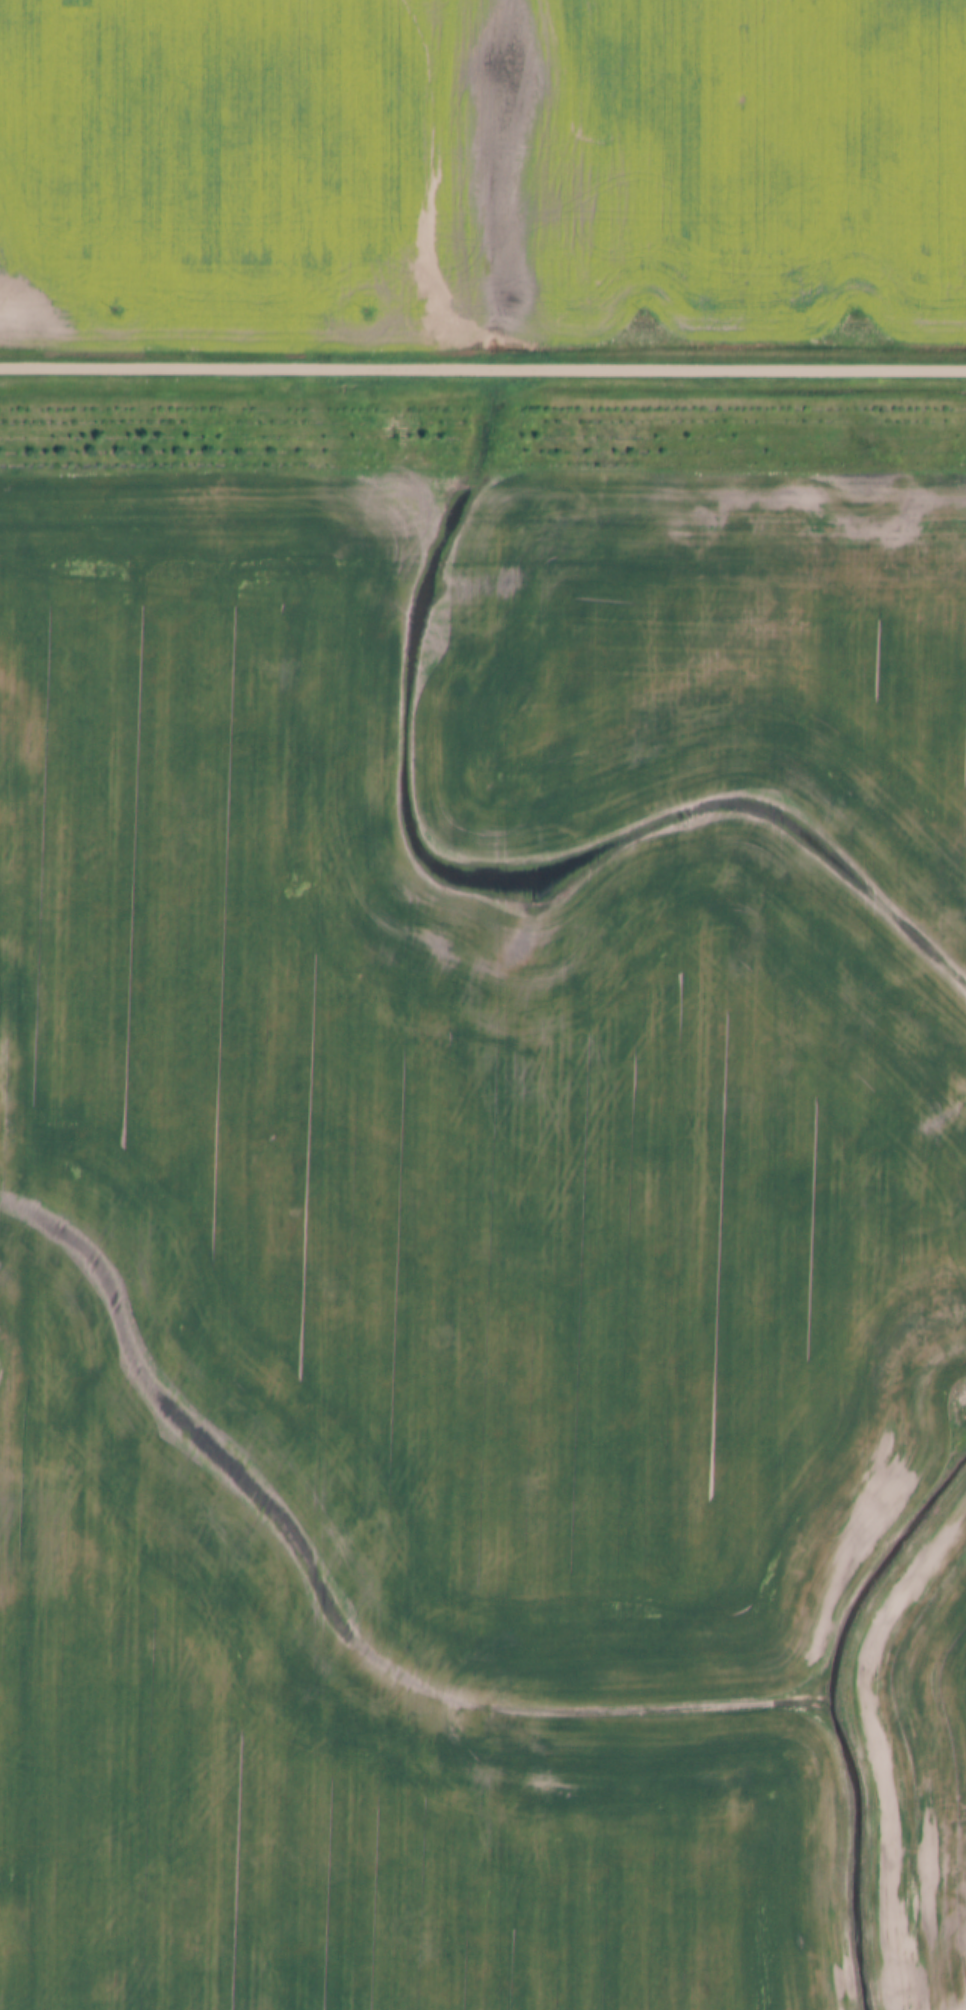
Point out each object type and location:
road: (483, 366)

